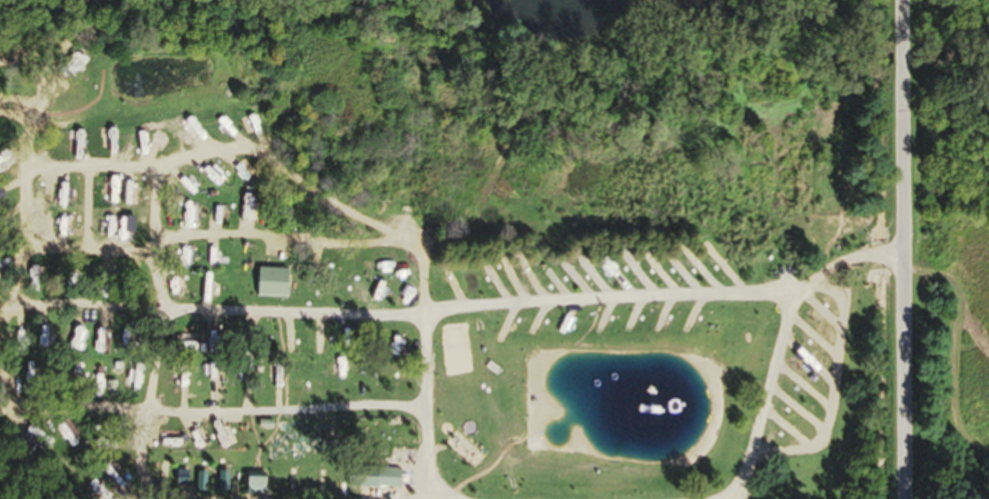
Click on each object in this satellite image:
road: (903, 249)
road: (843, 259)
building: (34, 279)
building: (268, 287)
road: (631, 298)
road: (158, 368)
building: (125, 383)
building: (370, 482)
building: (253, 486)

